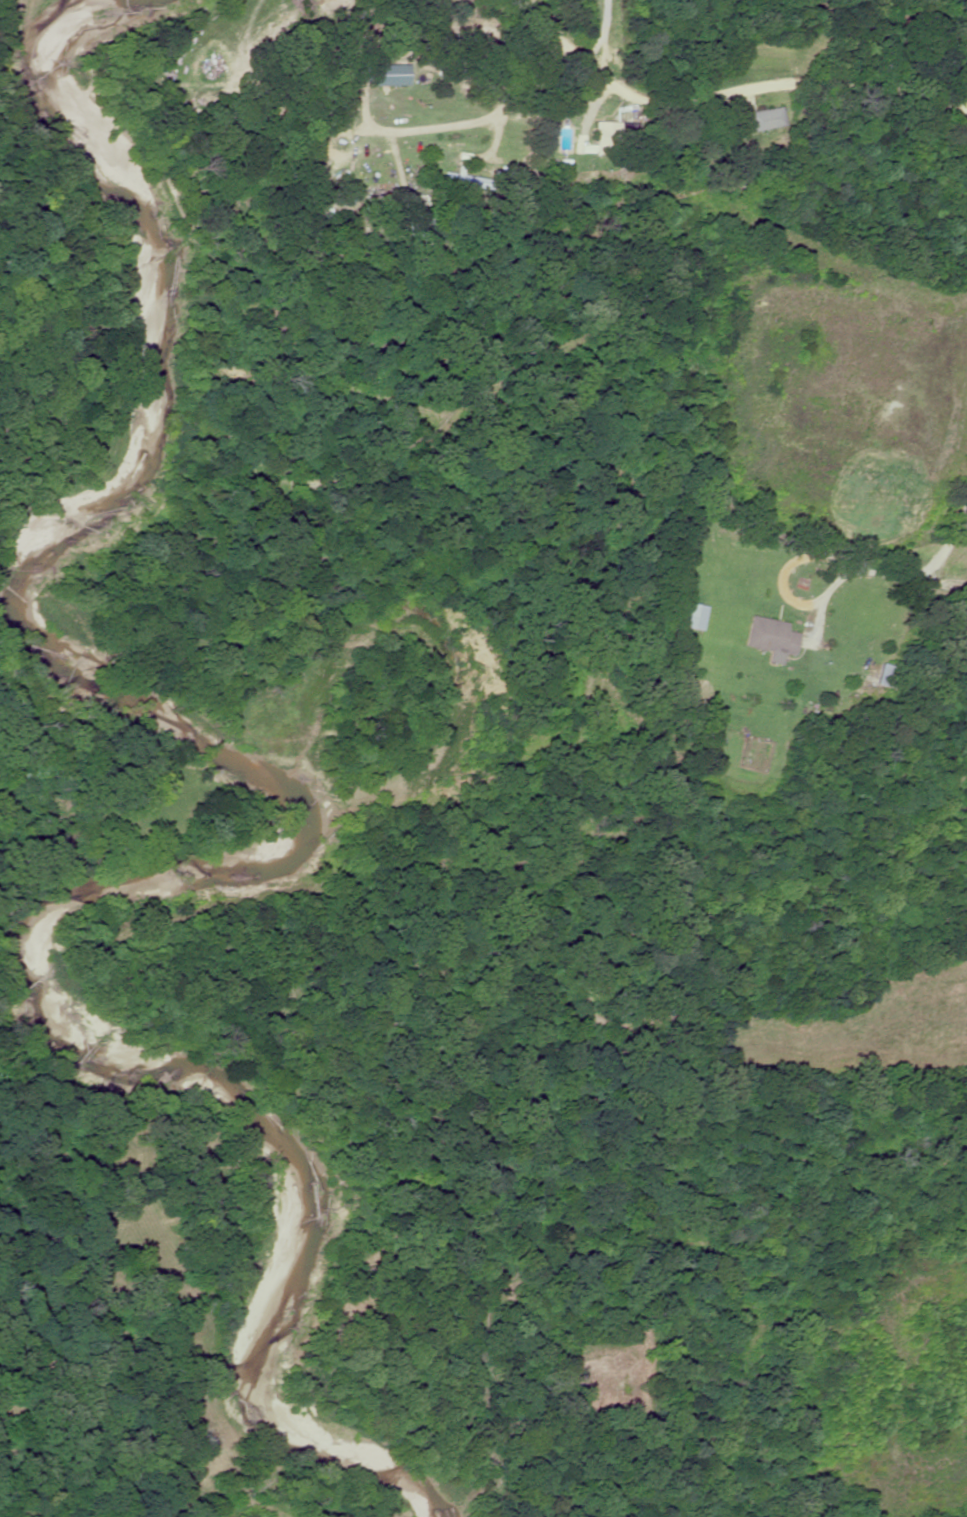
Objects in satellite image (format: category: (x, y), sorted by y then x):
building: (386, 76)
road: (735, 86)
building: (763, 120)
building: (605, 137)
building: (690, 617)
building: (769, 636)
building: (884, 676)

